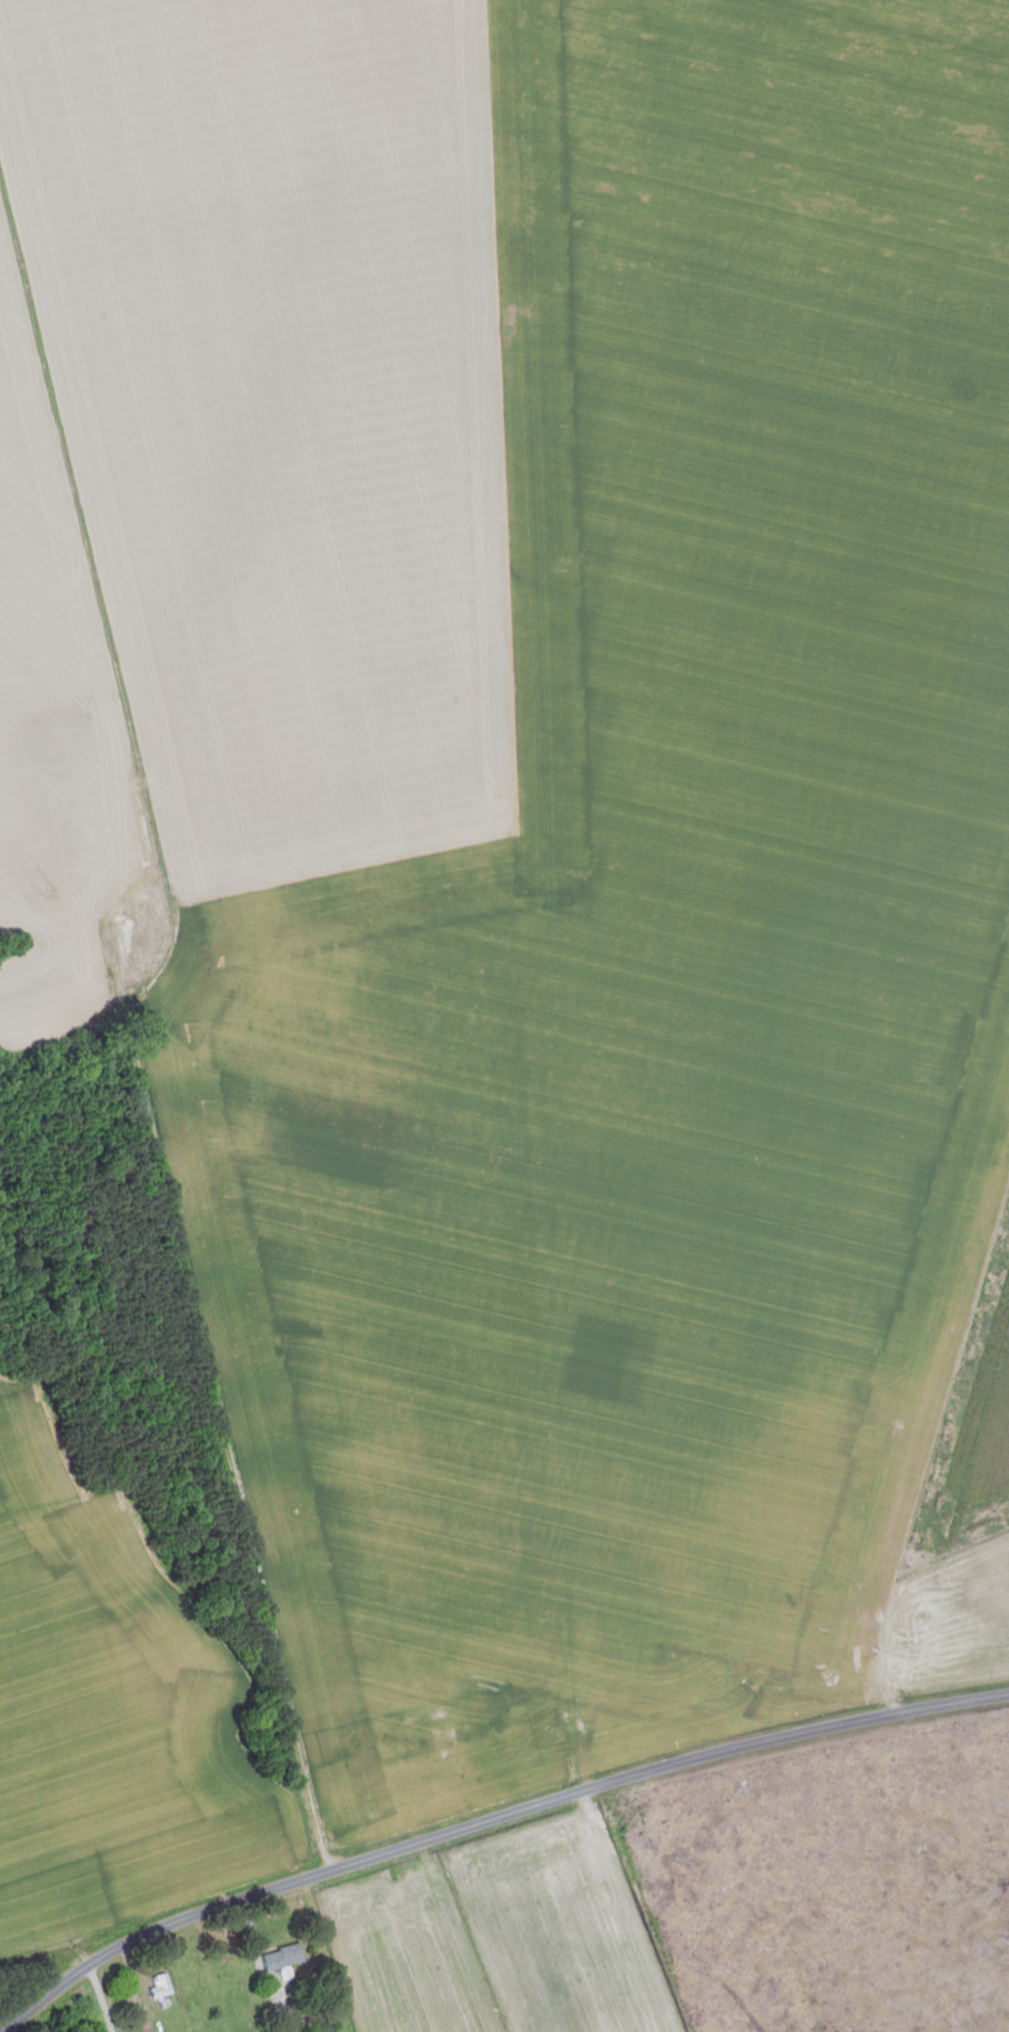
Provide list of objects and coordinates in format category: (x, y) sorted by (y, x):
road: (206, 1346)
road: (491, 1821)
building: (277, 1960)
building: (160, 1990)
road: (100, 1999)

